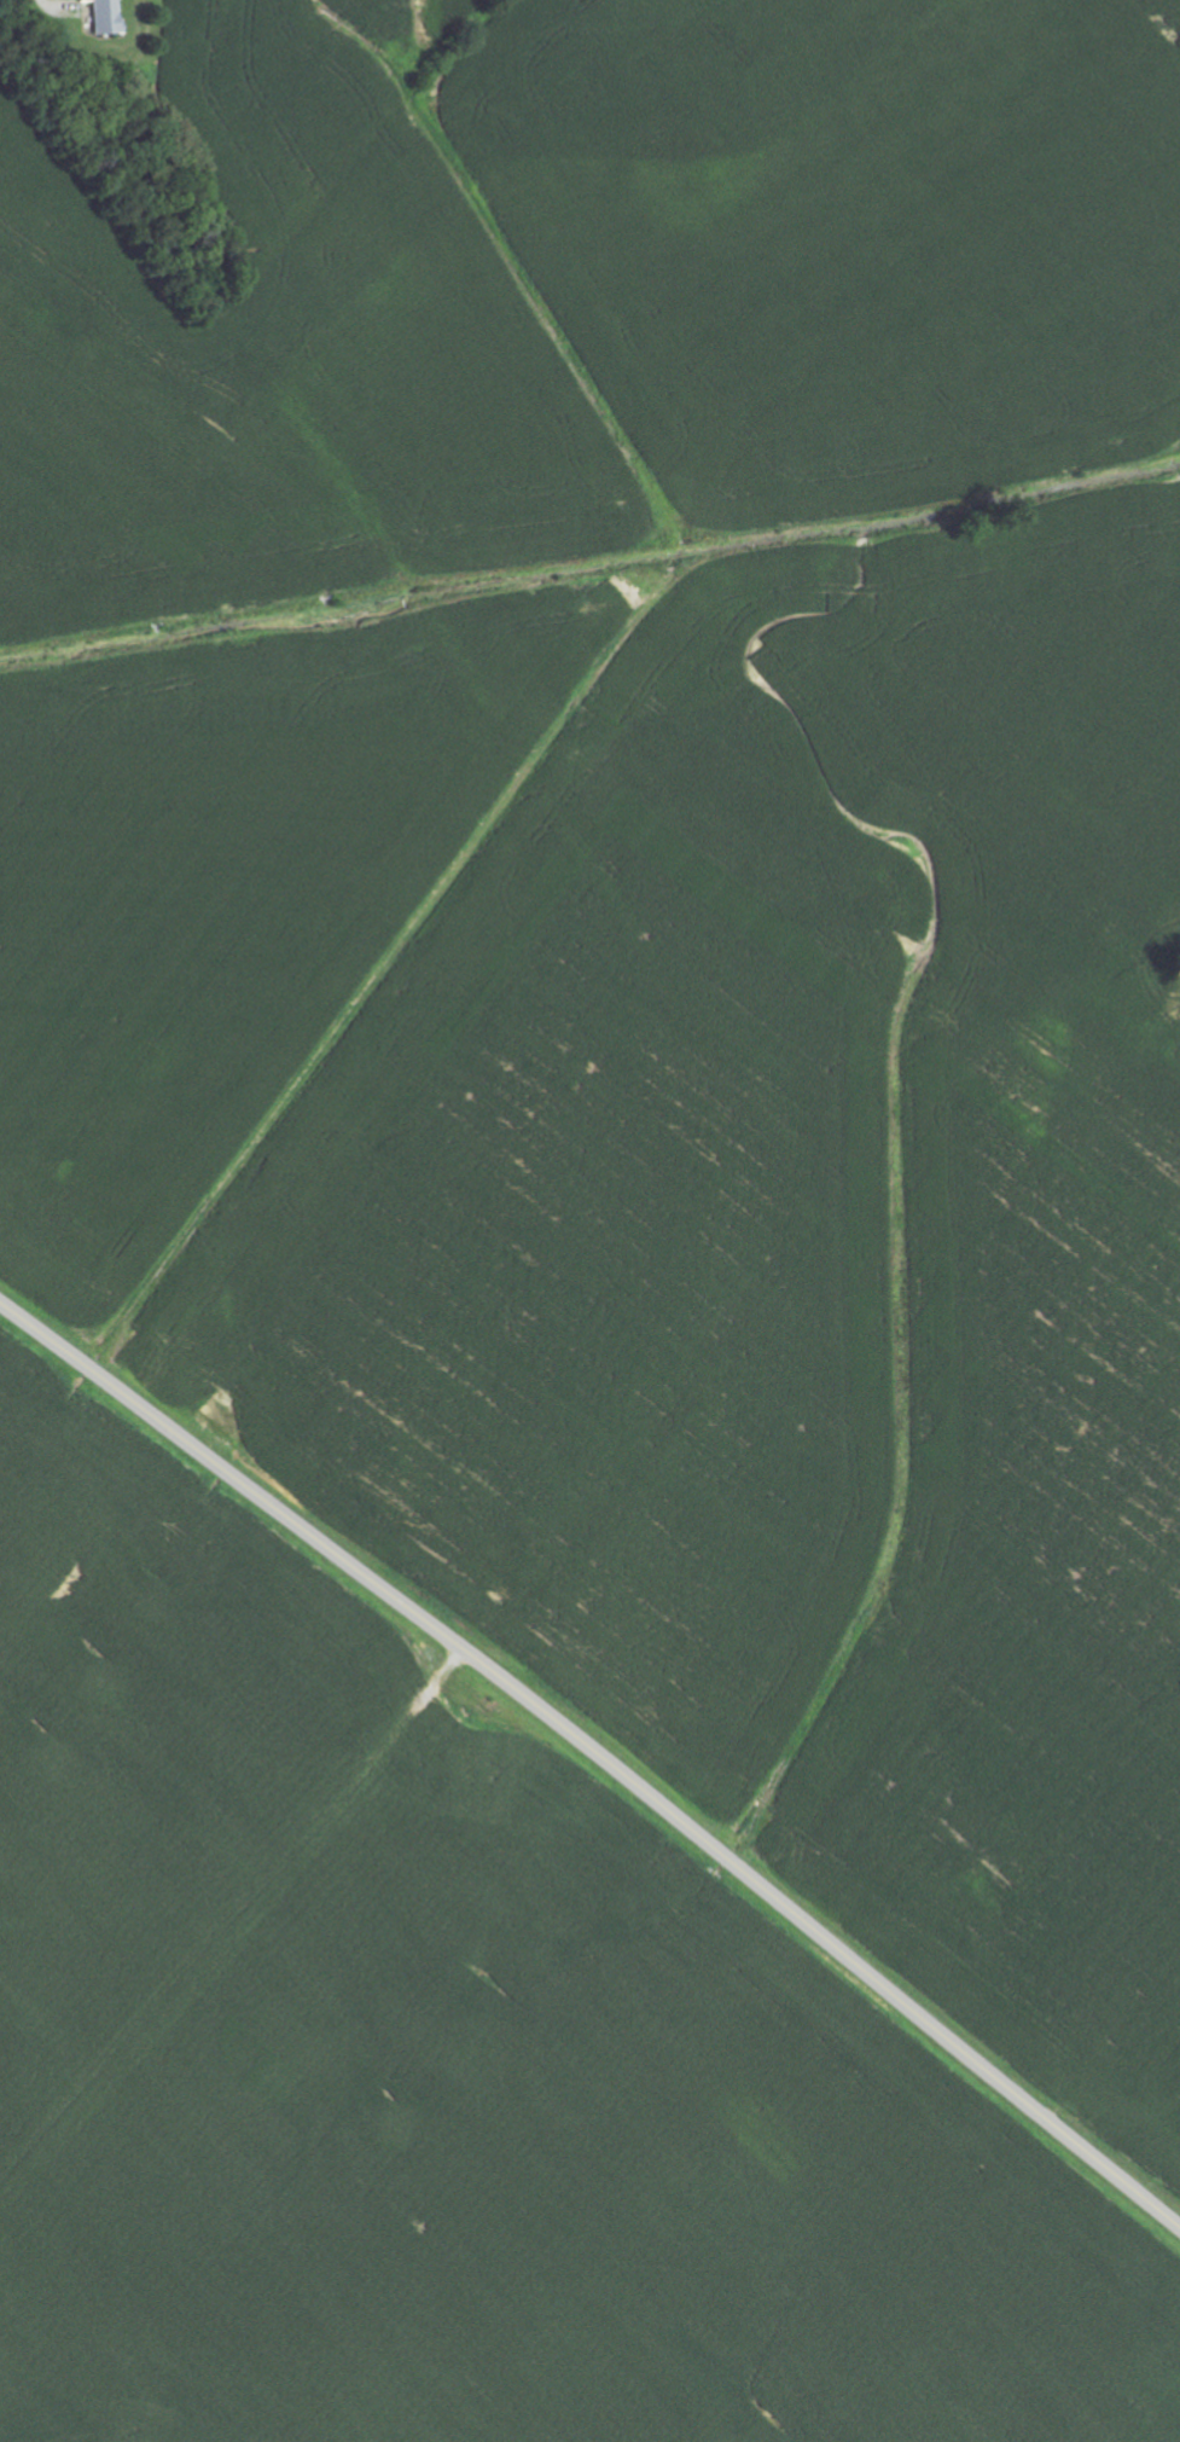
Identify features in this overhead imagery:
road: (53, 4)
building: (100, 17)
road: (598, 1756)

